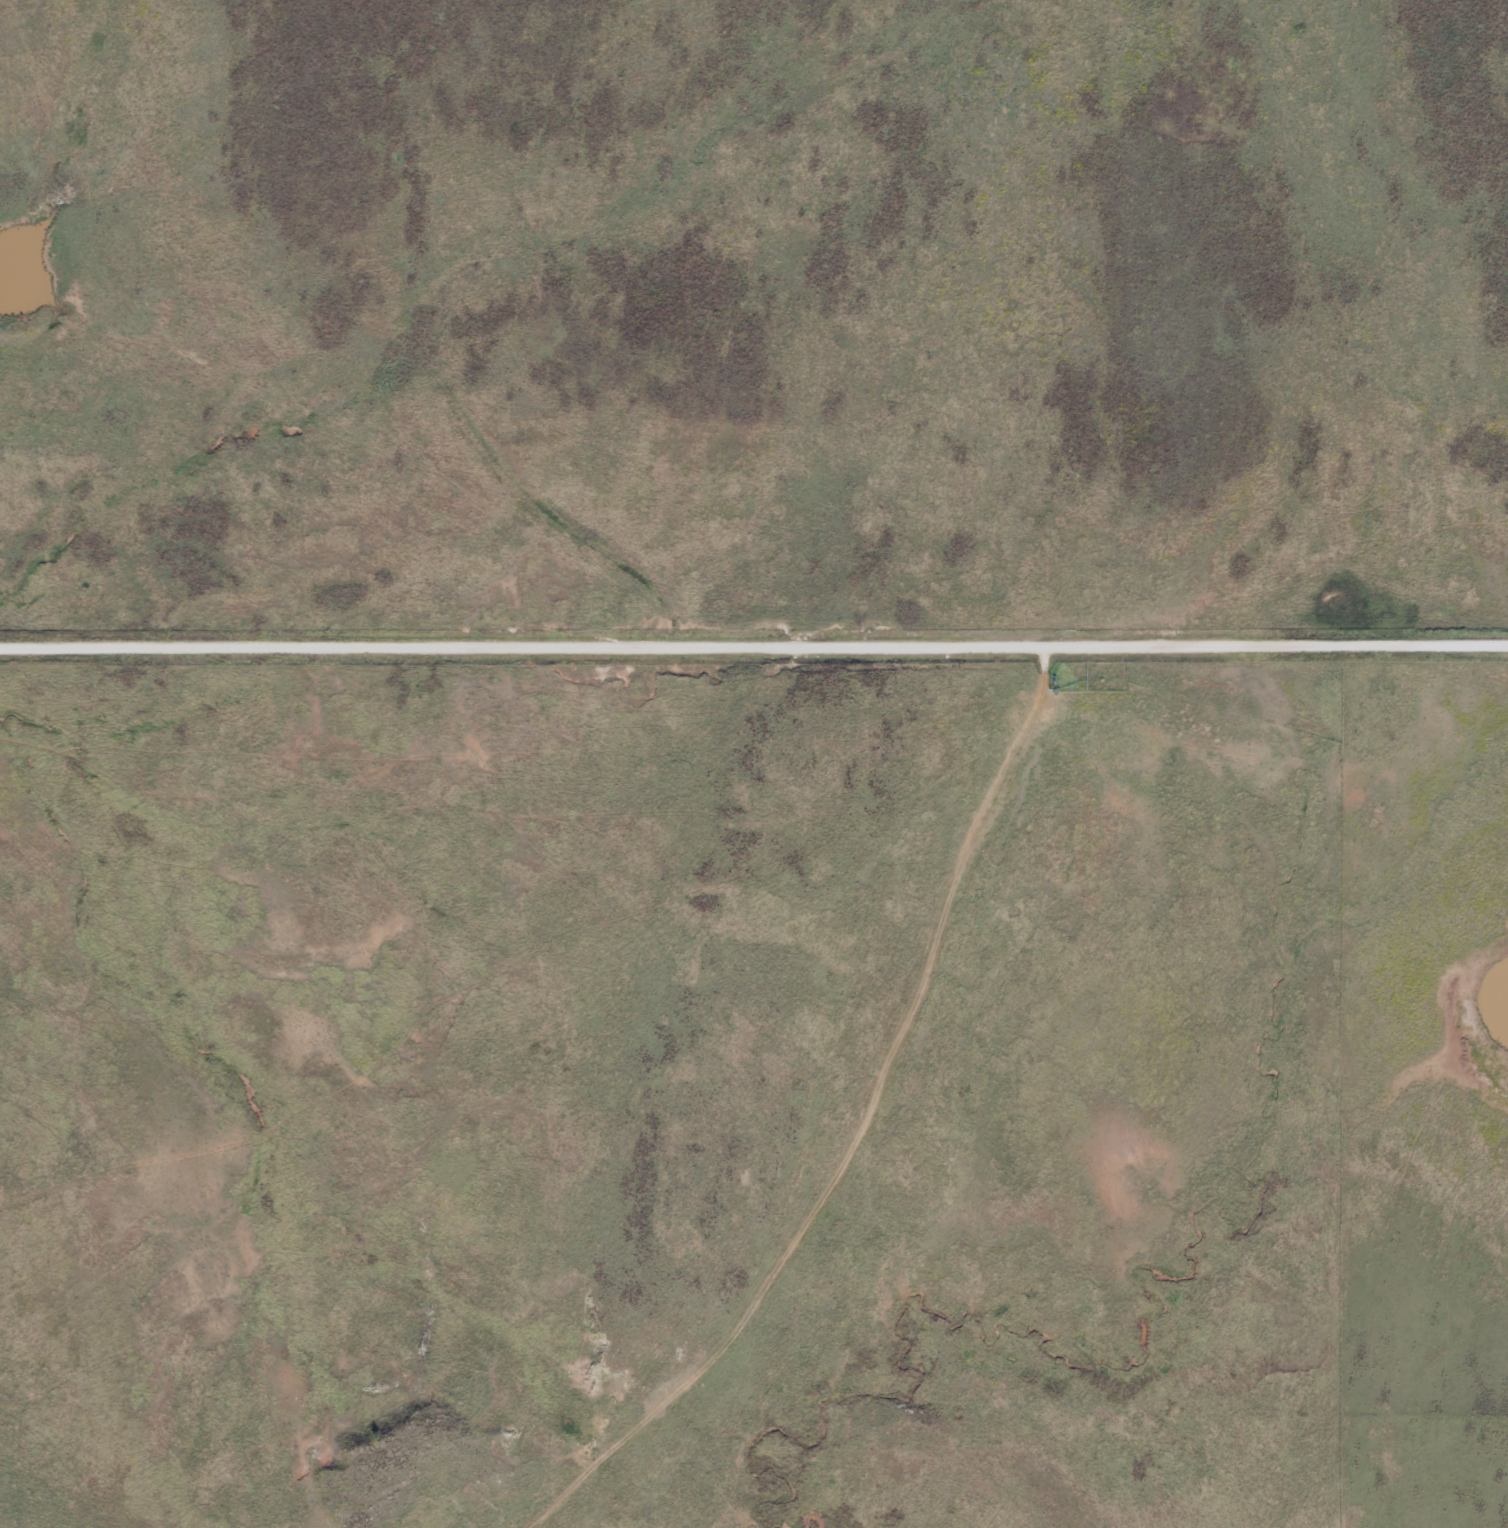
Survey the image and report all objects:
road: (754, 645)
road: (867, 1123)

